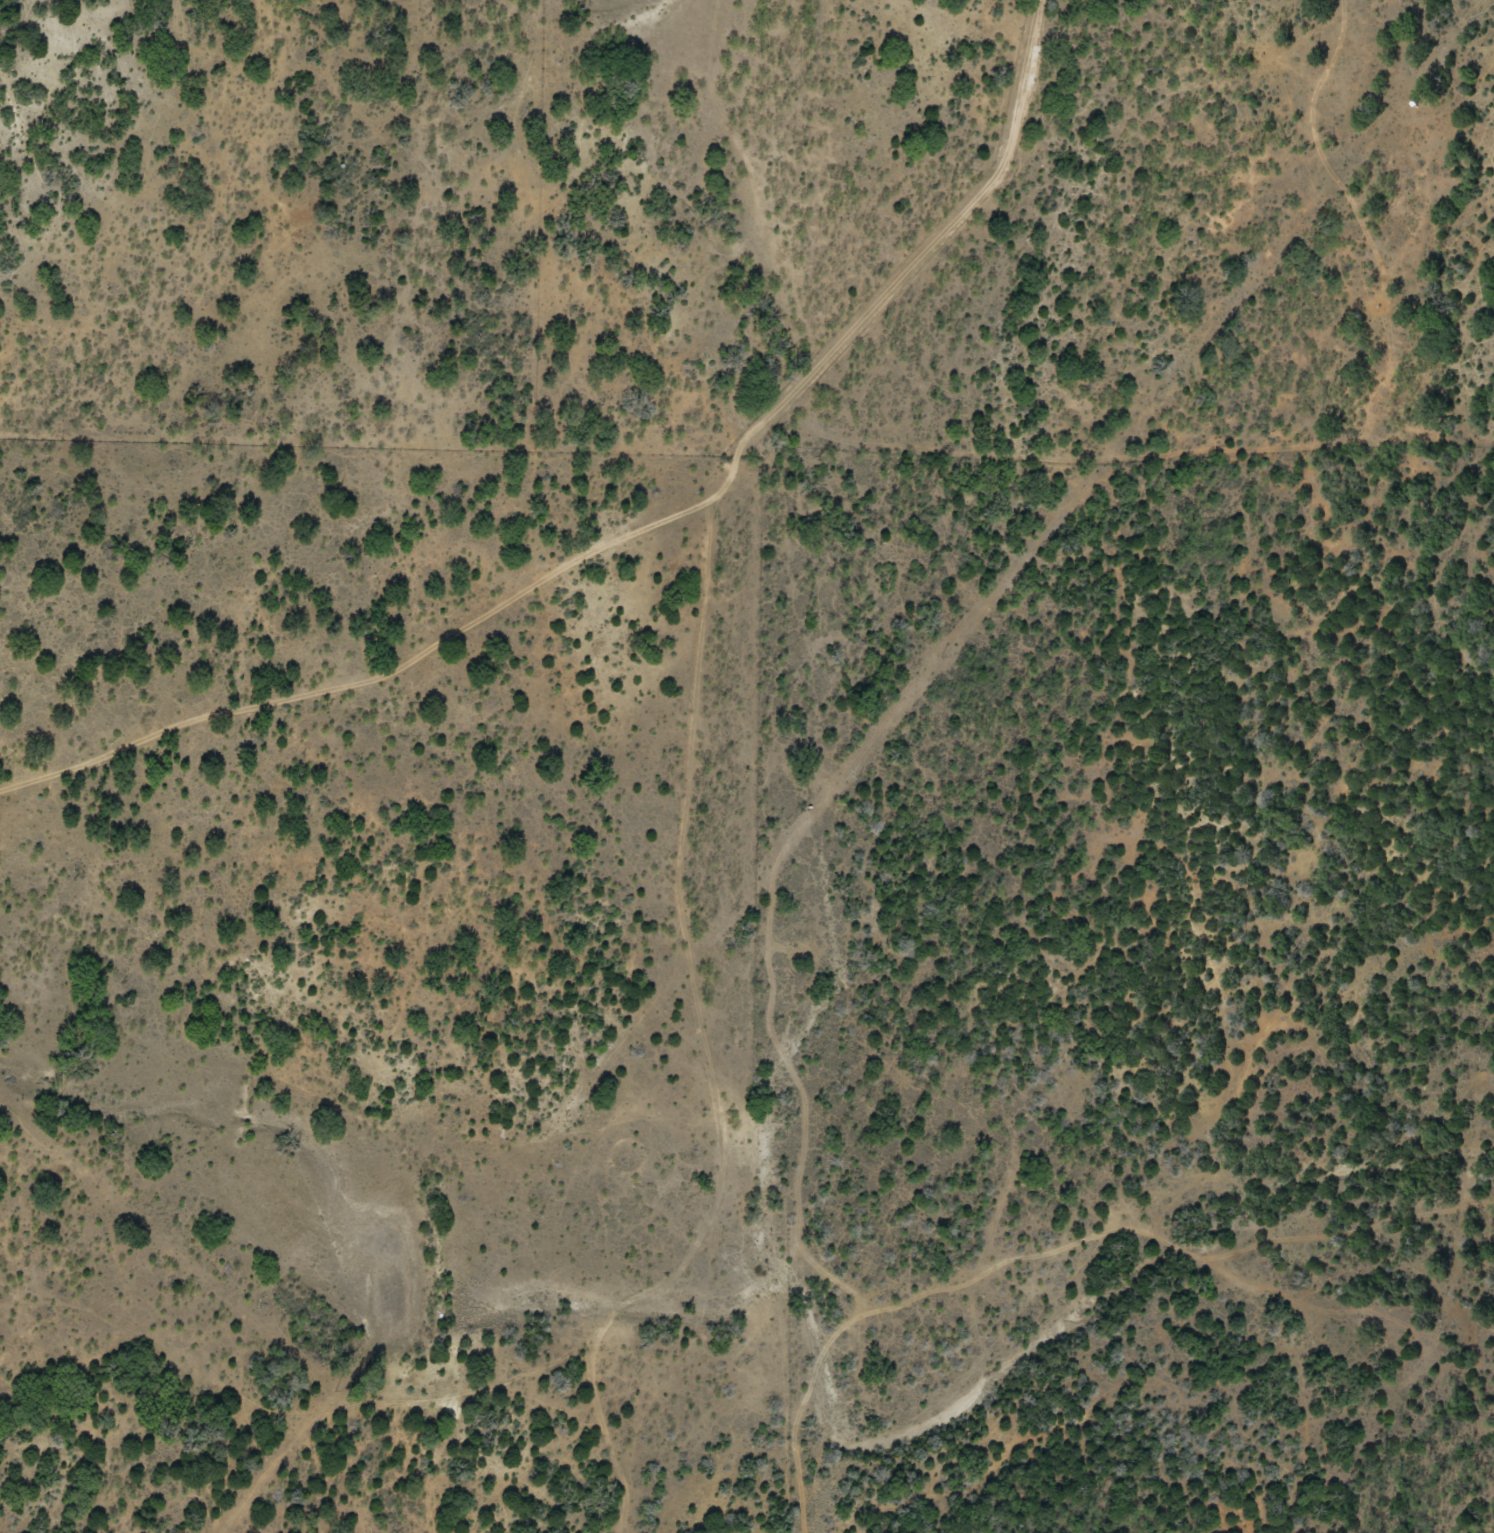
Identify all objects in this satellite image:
road: (651, 546)

